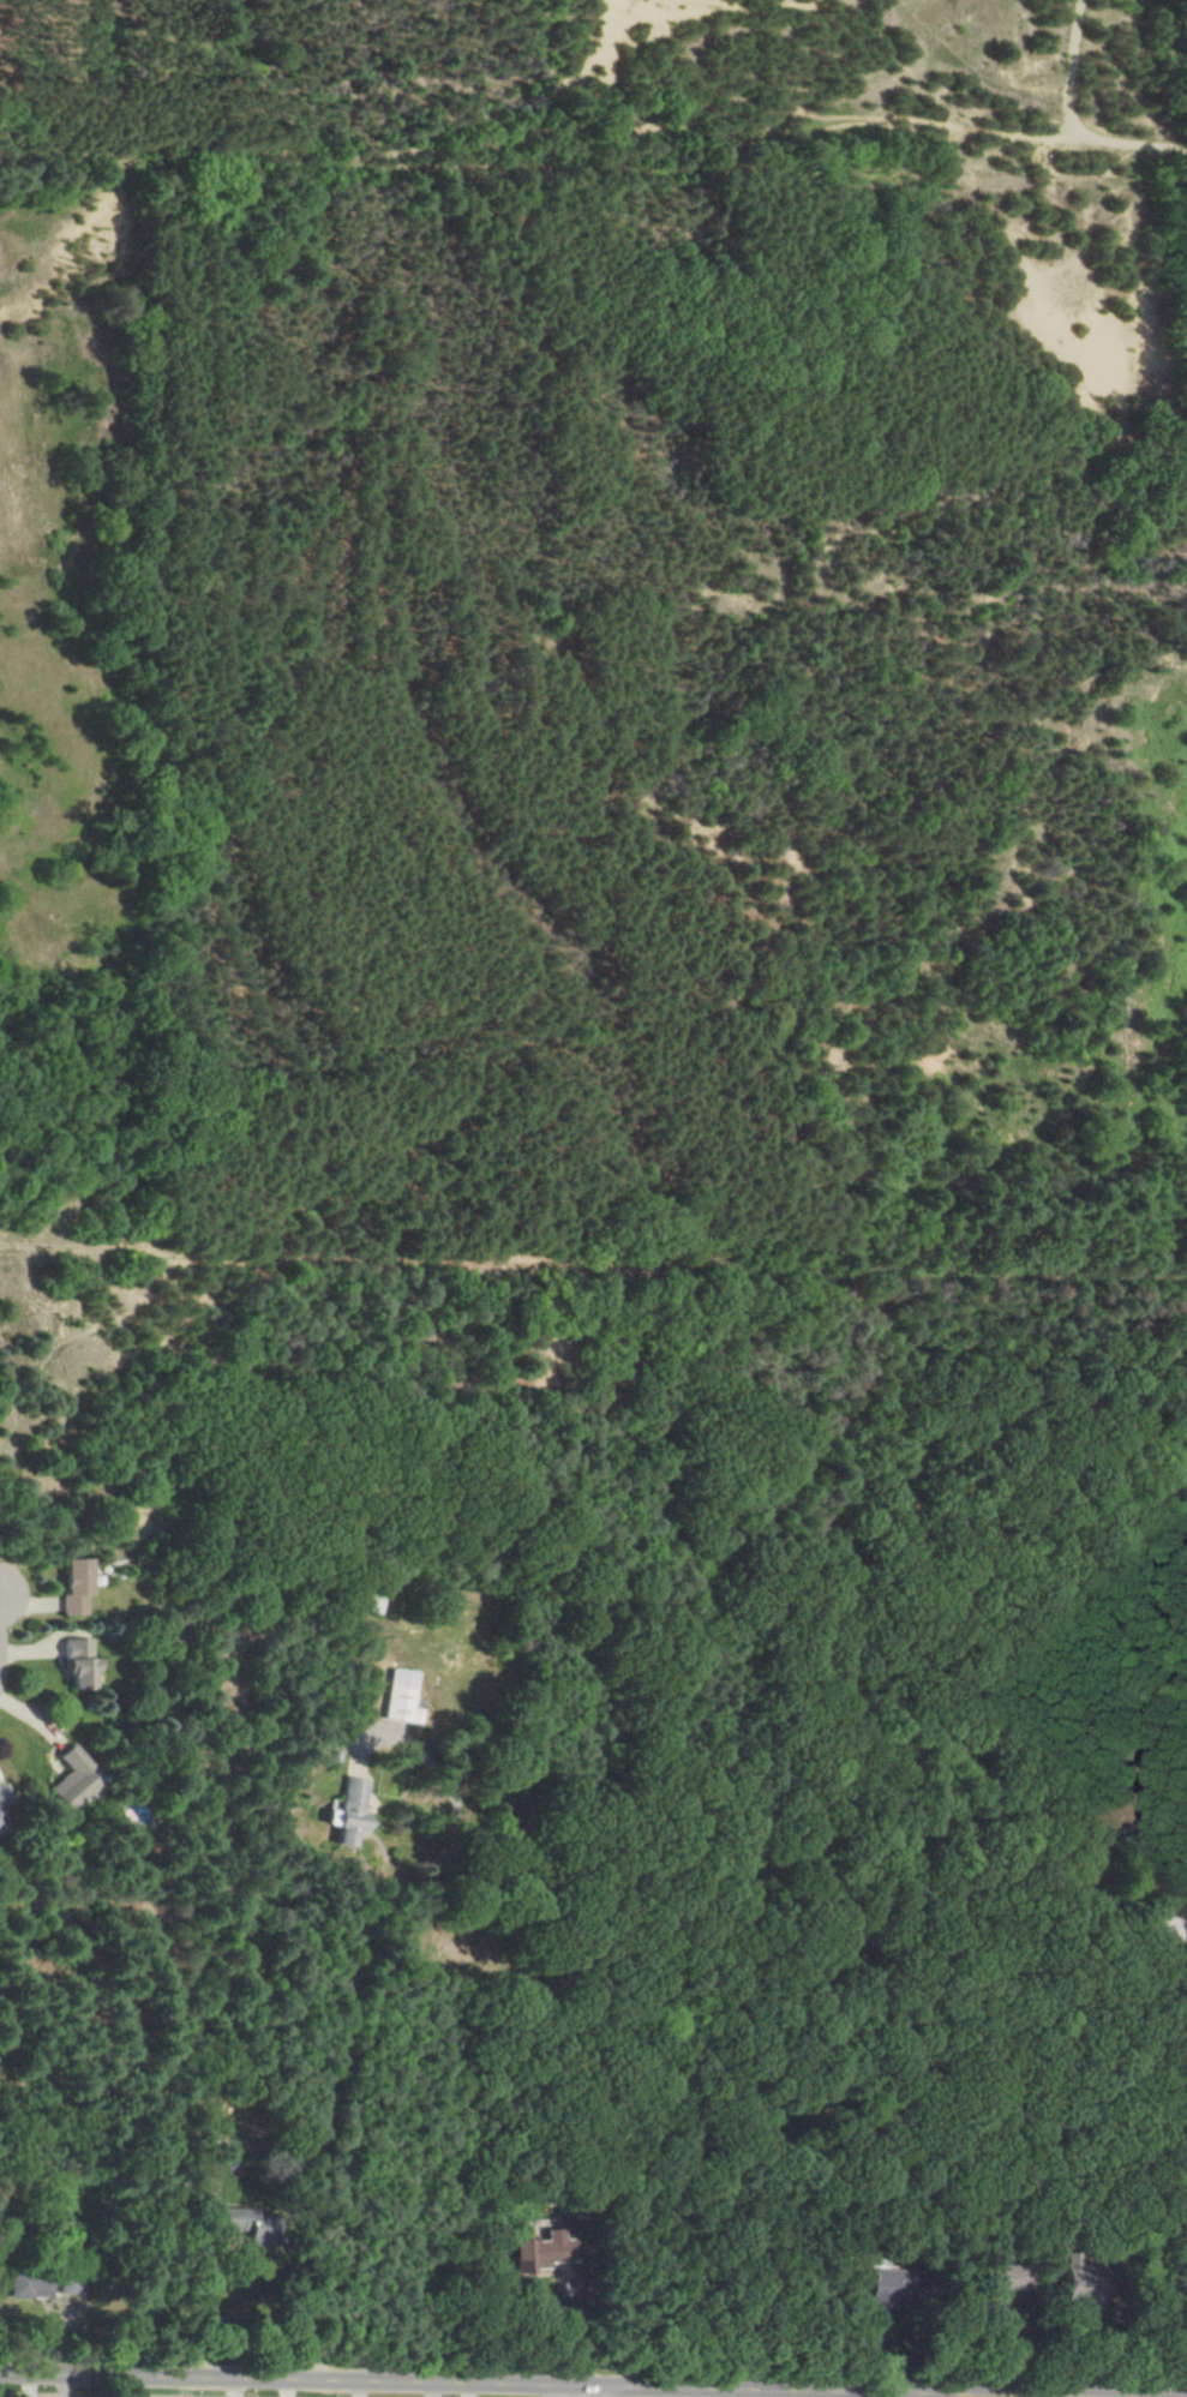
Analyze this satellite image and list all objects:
road: (370, 61)
road: (1114, 71)
road: (481, 84)
park: (643, 104)
road: (775, 109)
road: (1080, 114)
road: (200, 143)
road: (1170, 162)
road: (1109, 737)
building: (73, 1587)
road: (599, 1635)
building: (76, 1662)
building: (400, 1697)
building: (68, 1778)
building: (4, 1800)
building: (344, 1811)
building: (0, 1832)
building: (1174, 1924)
road: (1134, 2133)
building: (246, 2223)
building: (541, 2251)
building: (71, 2282)
building: (1003, 2285)
building: (29, 2287)
building: (881, 2288)
road: (200, 2295)
road: (64, 2384)
road: (475, 2384)
road: (431, 2390)
road: (583, 2393)
road: (29, 2396)

